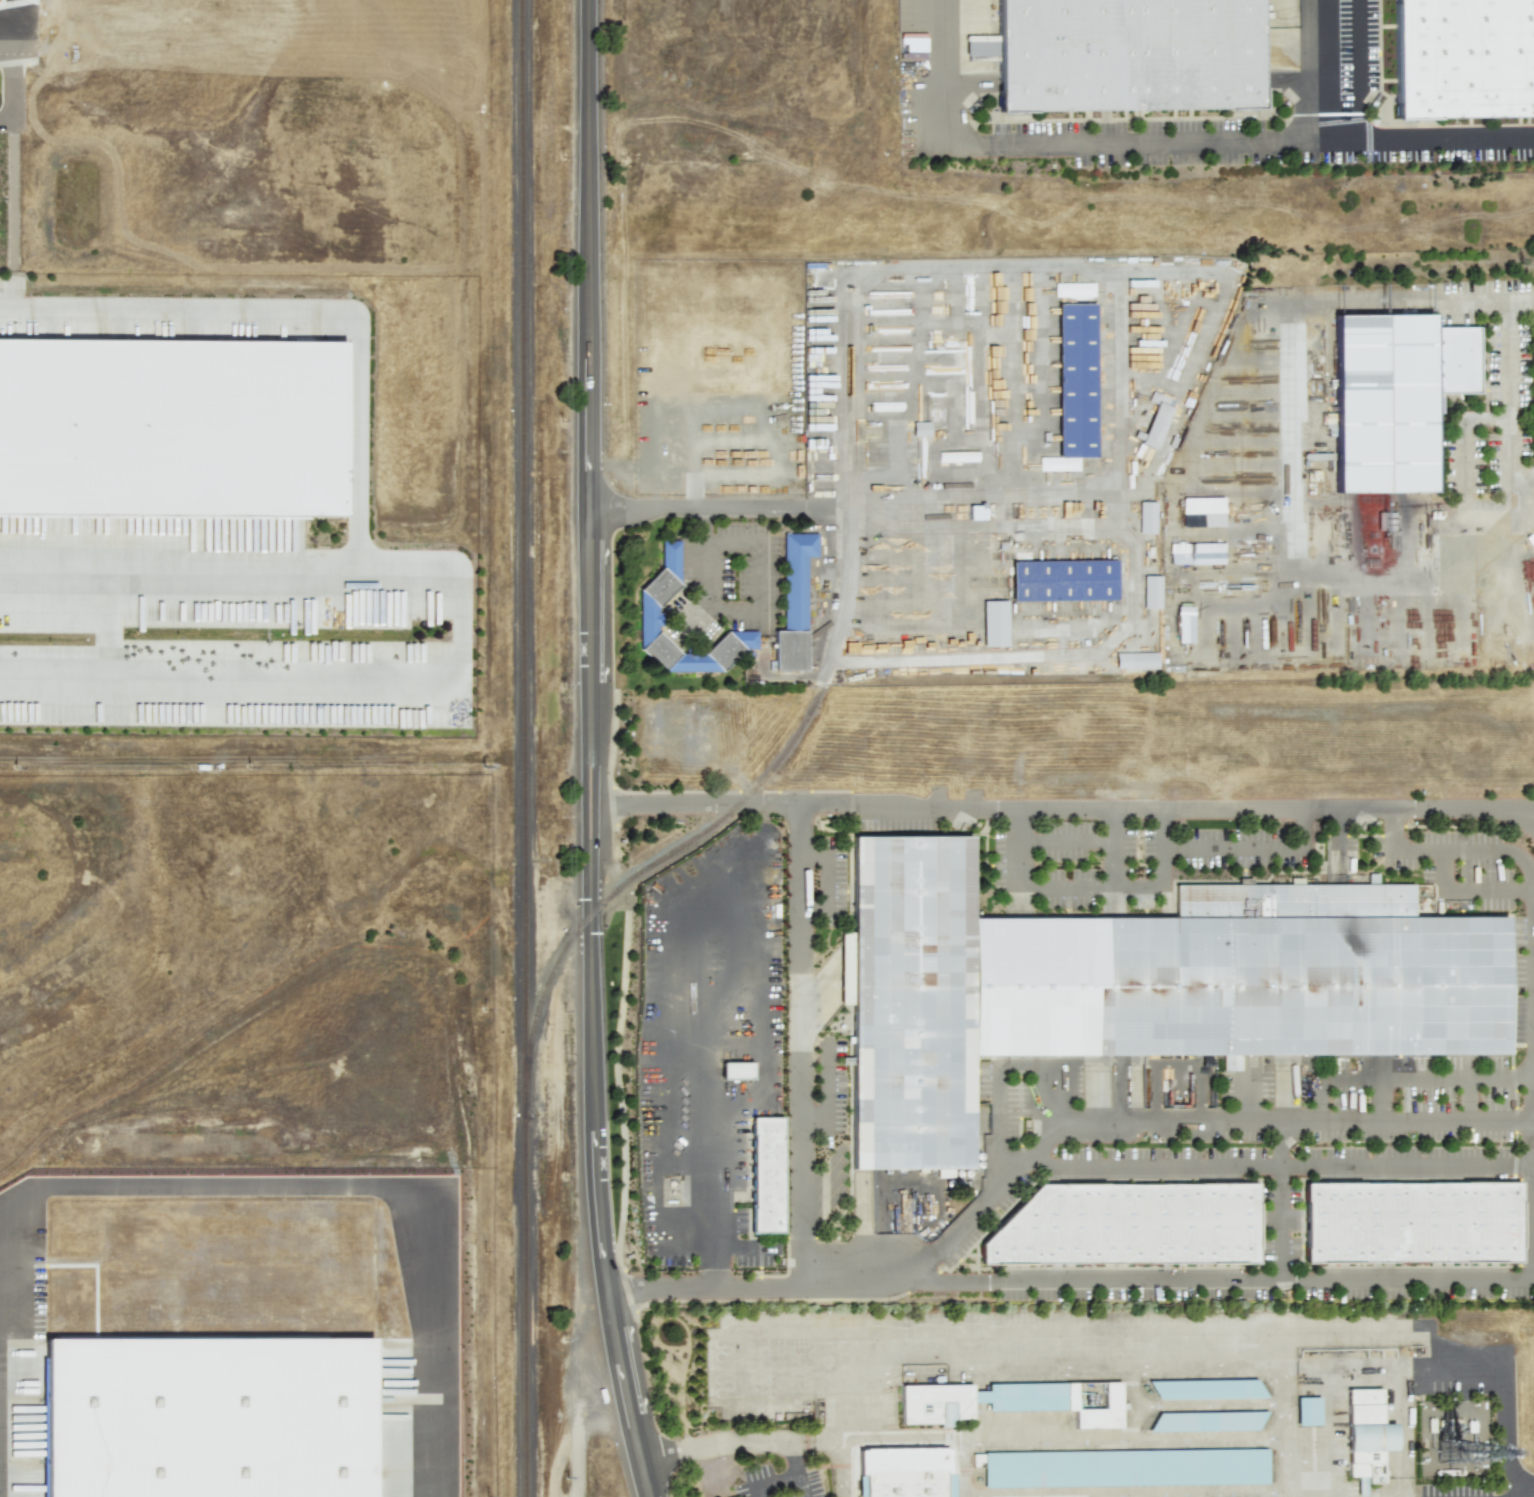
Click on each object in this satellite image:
road: (9, 21)
road: (11, 43)
building: (1128, 57)
building: (1465, 60)
road: (1322, 67)
road: (1164, 136)
building: (1071, 290)
street lamp: (634, 319)
building: (1079, 379)
building: (1385, 408)
building: (1155, 420)
building: (171, 425)
building: (920, 428)
street lamp: (633, 437)
road: (355, 439)
road: (1463, 439)
building: (945, 461)
road: (1508, 468)
road: (754, 508)
building: (1202, 512)
building: (1147, 518)
street lamp: (634, 542)
road: (762, 551)
building: (1196, 553)
building: (1066, 582)
road: (706, 588)
building: (1151, 592)
building: (795, 603)
building: (650, 619)
road: (697, 622)
building: (994, 623)
building: (1184, 624)
street lamp: (634, 646)
building: (1136, 660)
railway: (522, 748)
railway: (785, 748)
road: (589, 750)
street lamp: (624, 757)
road: (1060, 810)
street lamp: (834, 814)
street lamp: (742, 816)
road: (1518, 816)
street lamp: (662, 817)
street lamp: (1084, 821)
street lamp: (1001, 824)
street lamp: (1452, 824)
street lamp: (1177, 828)
street lamp: (1315, 828)
road: (1065, 837)
road: (1253, 846)
railway: (676, 849)
road: (1162, 869)
road: (1529, 881)
road: (1531, 881)
road: (1066, 882)
street lamp: (626, 906)
building: (1241, 992)
building: (913, 1004)
road: (708, 1017)
road: (800, 1045)
building: (736, 1070)
road: (998, 1074)
road: (1425, 1076)
street lamp: (624, 1084)
road: (1382, 1098)
road: (1465, 1098)
road: (1045, 1140)
street lamp: (1262, 1144)
street lamp: (1390, 1144)
street lamp: (1503, 1144)
street lamp: (1156, 1145)
road: (1210, 1164)
road: (1403, 1165)
building: (943, 1173)
building: (761, 1176)
road: (370, 1186)
road: (1528, 1221)
building: (1410, 1224)
building: (1126, 1226)
road: (745, 1249)
street lamp: (632, 1254)
road: (713, 1268)
road: (1222, 1281)
road: (663, 1322)
road: (1185, 1369)
building: (1210, 1384)
building: (938, 1404)
building: (1310, 1404)
building: (1097, 1405)
road: (1145, 1406)
road: (1216, 1407)
building: (1210, 1415)
street lamp: (667, 1418)
building: (208, 1424)
road: (687, 1424)
road: (583, 1431)
road: (1407, 1431)
road: (1287, 1432)
building: (1370, 1435)
road: (732, 1443)
road: (1040, 1444)
building: (1125, 1464)
road: (950, 1465)
road: (833, 1466)
road: (964, 1471)
road: (775, 1483)
building: (907, 1484)
road: (804, 1487)
road: (1513, 1492)
road: (1207, 1496)

